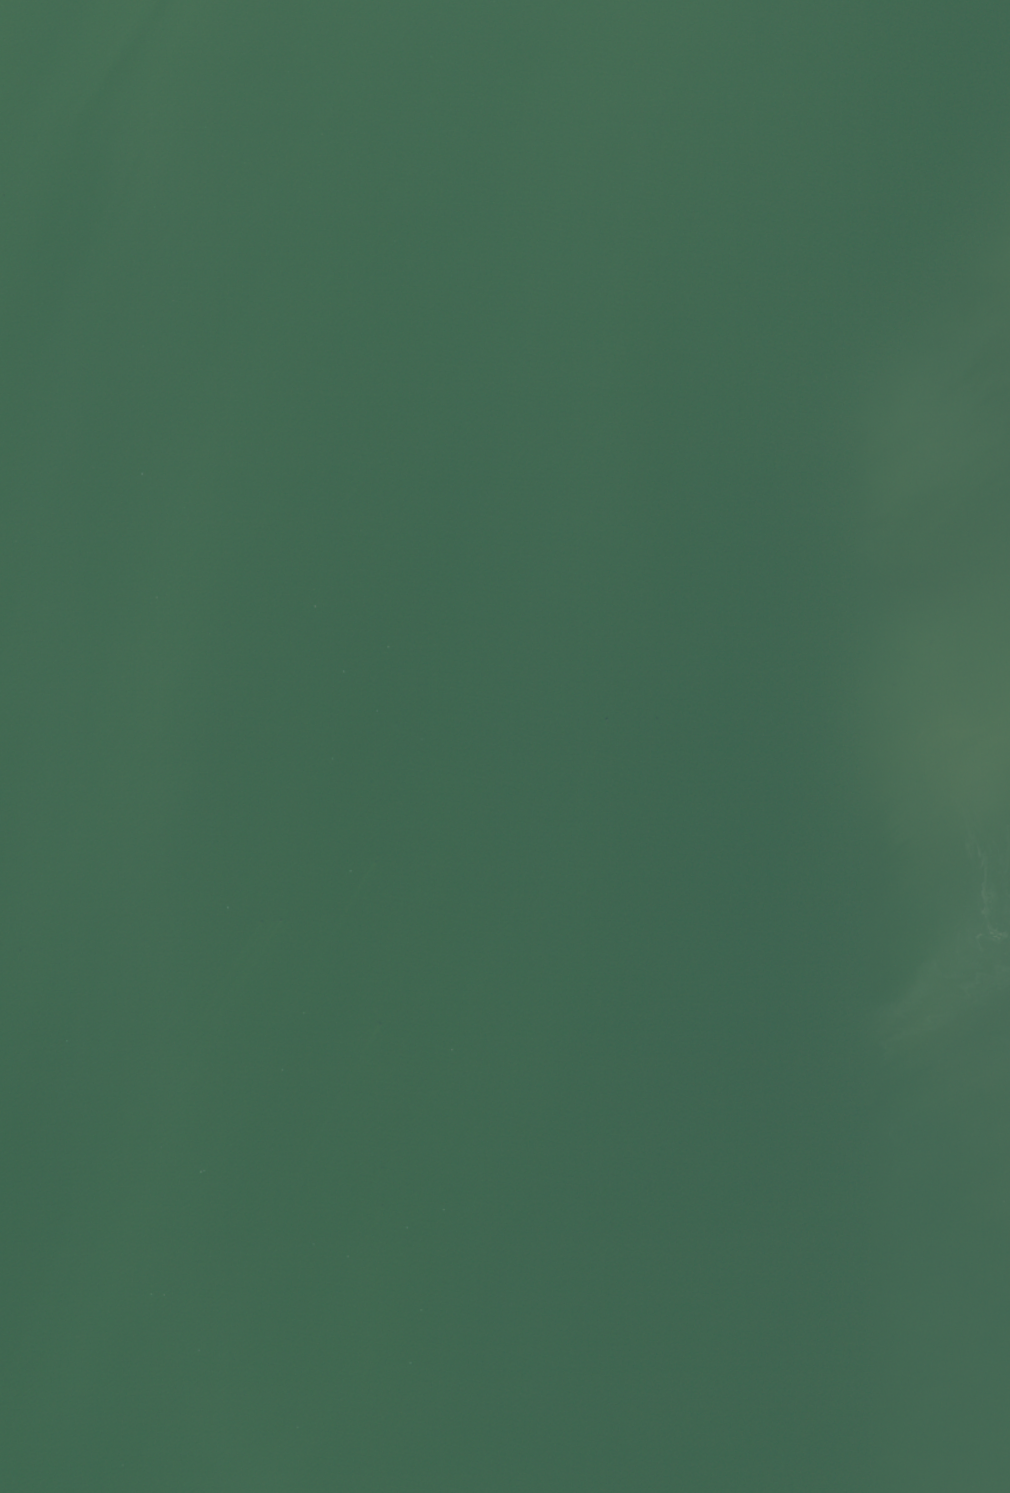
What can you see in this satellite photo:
river: (833, 151)
building: (80, 1188)

